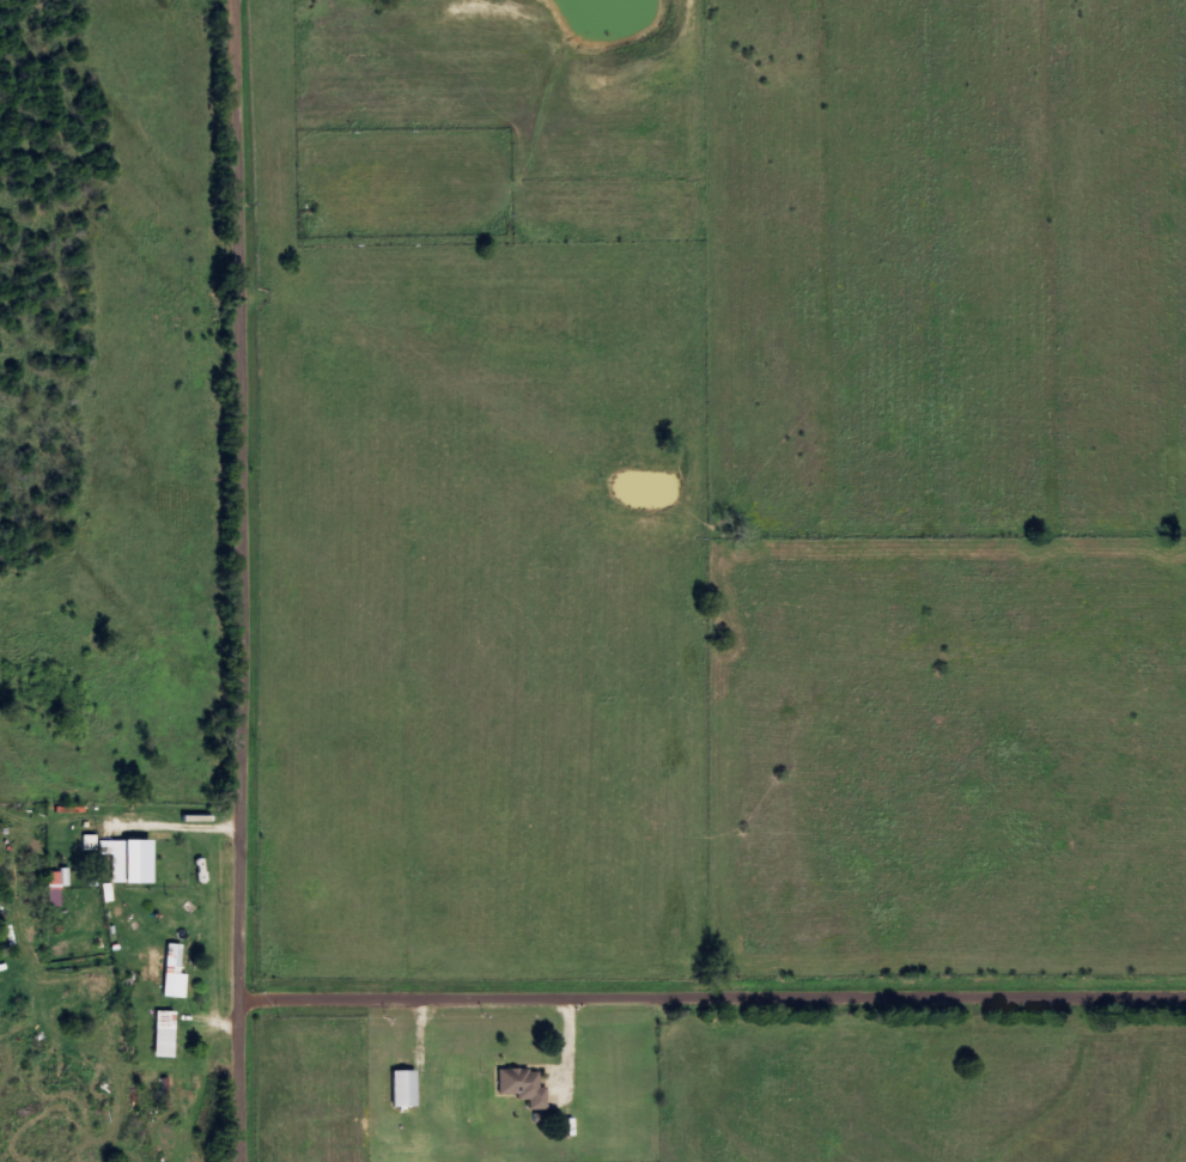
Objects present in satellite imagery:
road: (249, 272)
road: (172, 550)
building: (92, 841)
road: (249, 852)
building: (132, 859)
building: (59, 884)
building: (159, 961)
building: (177, 984)
road: (717, 994)
building: (168, 1033)
building: (525, 1085)
building: (408, 1088)

